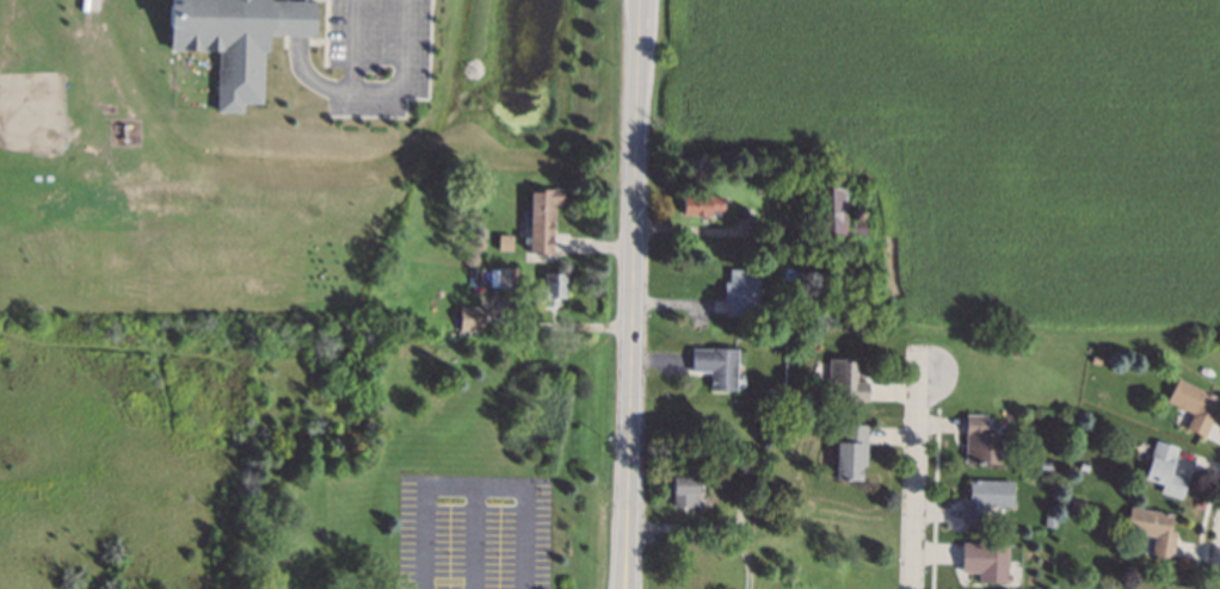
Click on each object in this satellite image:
building: (228, 42)
road: (350, 44)
road: (356, 88)
crop: (979, 143)
building: (702, 204)
building: (836, 215)
building: (542, 218)
building: (505, 242)
building: (499, 278)
building: (550, 291)
building: (741, 292)
road: (634, 294)
building: (473, 315)
building: (1096, 360)
building: (716, 366)
building: (845, 380)
building: (775, 392)
building: (1193, 405)
building: (821, 409)
building: (978, 440)
building: (851, 452)
building: (1046, 465)
building: (1084, 466)
building: (1165, 470)
building: (737, 477)
road: (922, 480)
road: (468, 484)
building: (684, 492)
building: (985, 497)
building: (1077, 504)
building: (1049, 521)
building: (1153, 529)
building: (986, 560)

